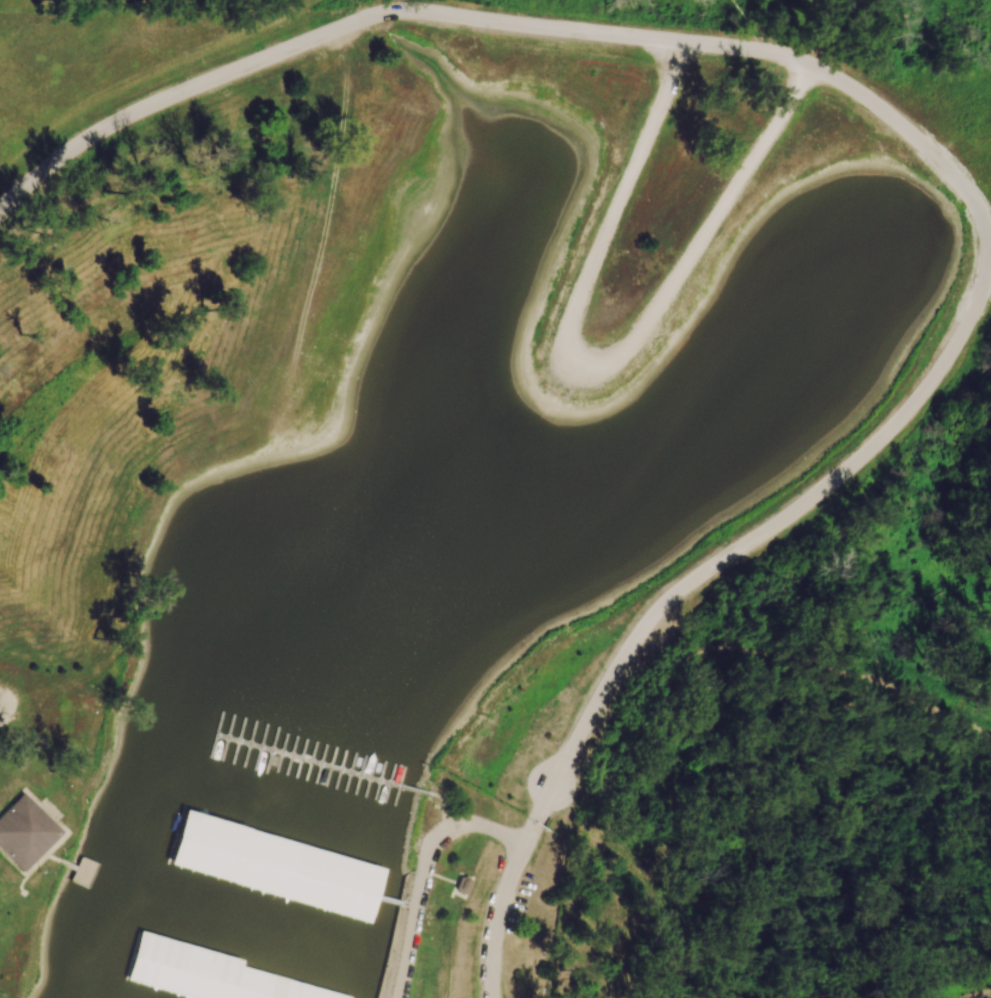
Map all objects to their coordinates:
road: (857, 95)
road: (598, 368)
park: (495, 499)
parking lot: (661, 633)
road: (836, 670)
road: (5, 702)
parking lot: (6, 706)
road: (326, 764)
road: (43, 810)
road: (443, 811)
road: (539, 816)
building: (24, 833)
building: (205, 852)
road: (52, 858)
road: (72, 866)
road: (423, 870)
road: (85, 871)
road: (289, 874)
road: (22, 877)
building: (308, 879)
road: (411, 906)
road: (525, 907)
road: (496, 917)
building: (533, 941)
road: (127, 944)
building: (183, 963)
road: (208, 971)
building: (277, 985)
road: (980, 994)

